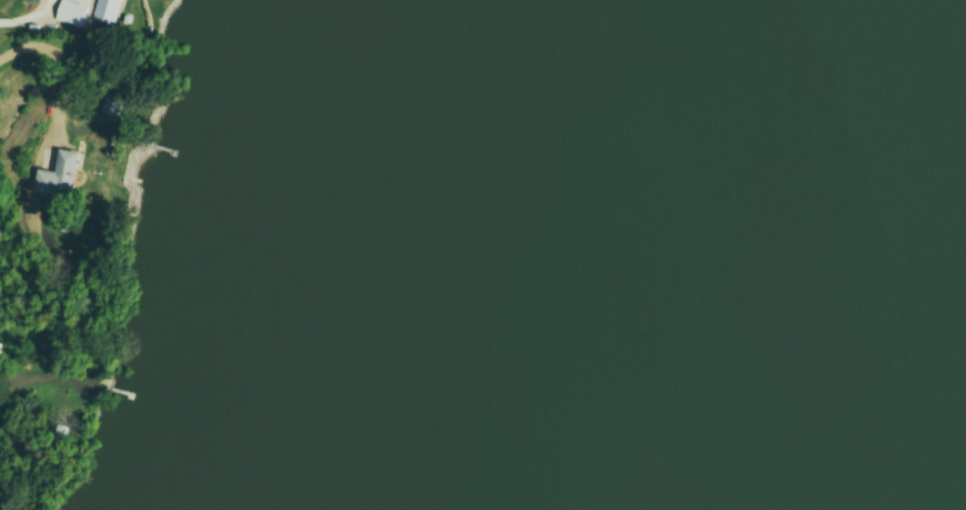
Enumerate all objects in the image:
building: (103, 11)
building: (108, 106)
building: (53, 178)

